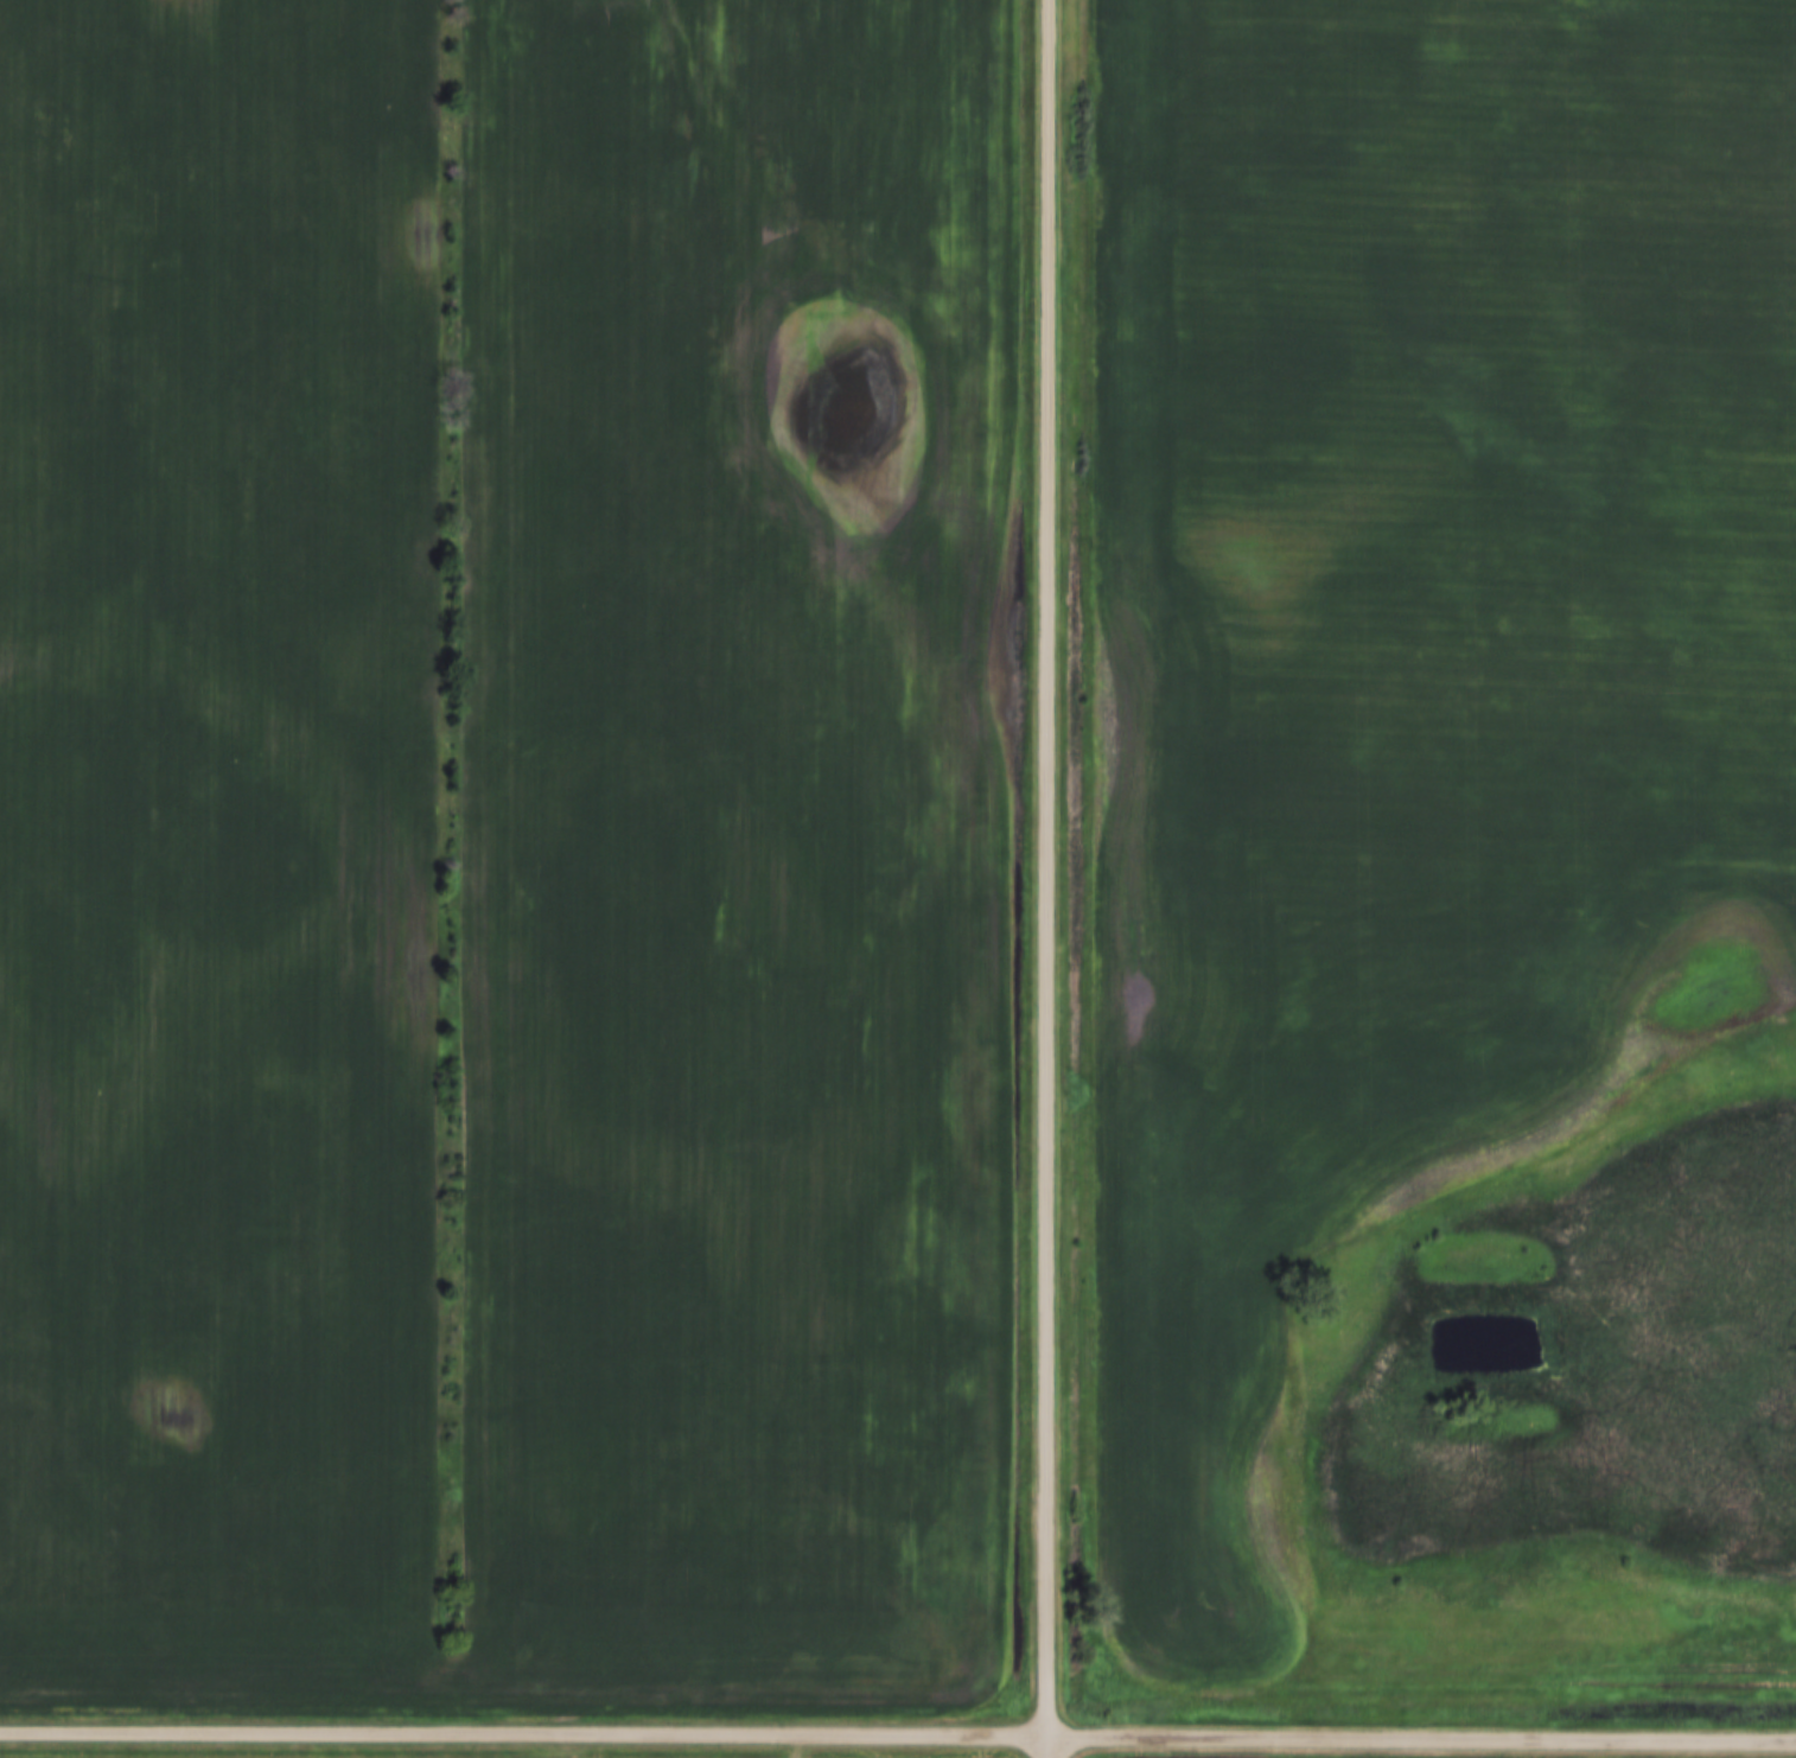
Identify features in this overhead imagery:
road: (1047, 879)
road: (898, 1733)

